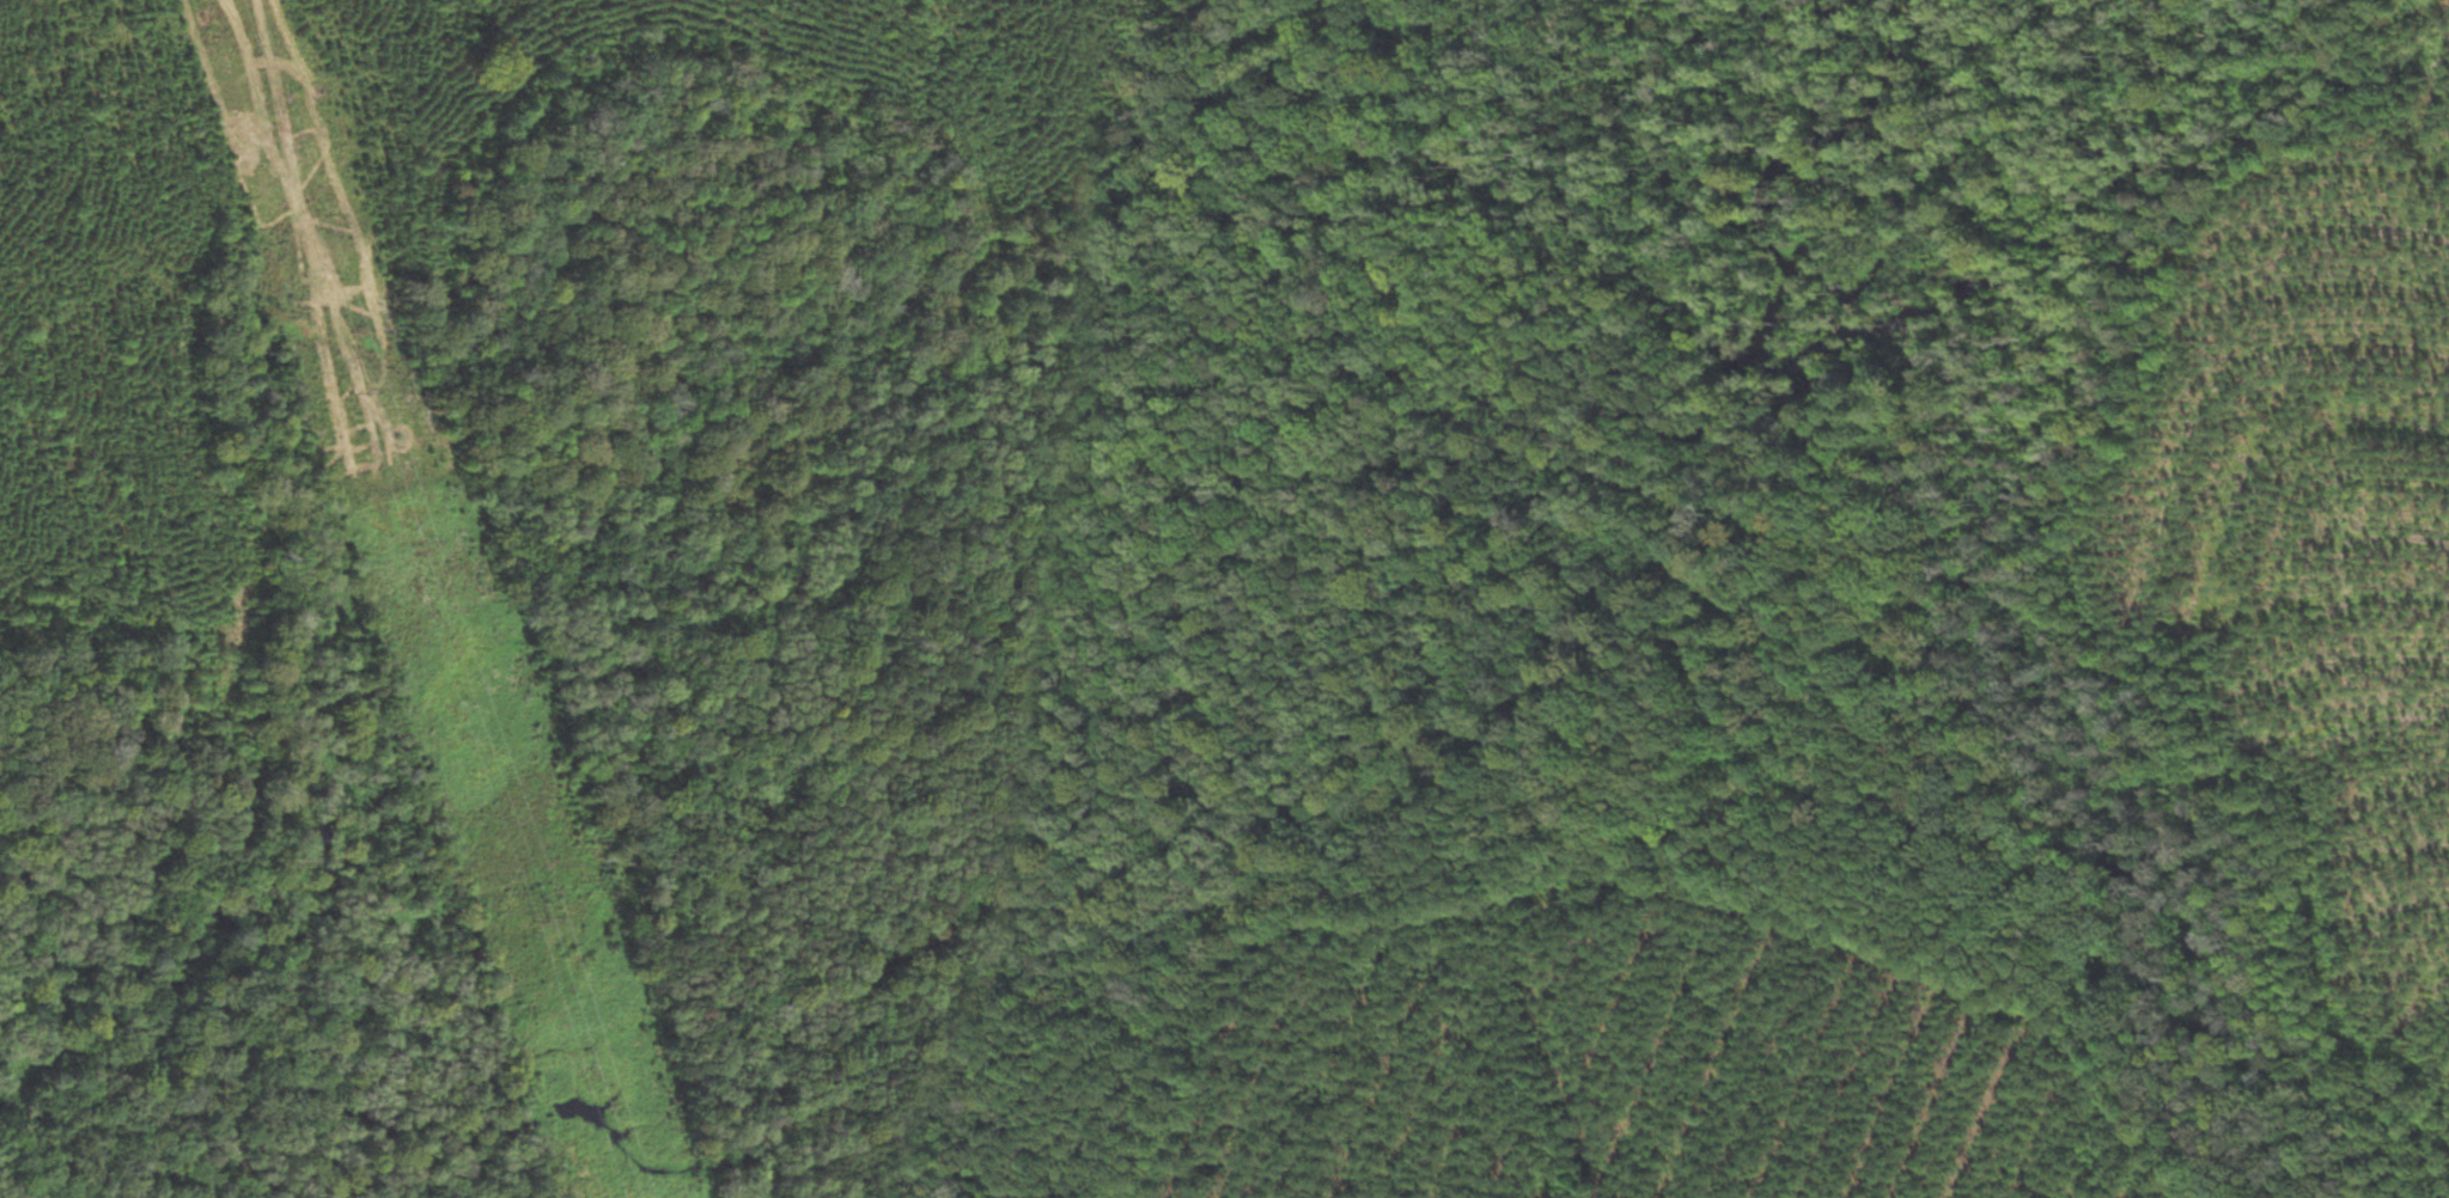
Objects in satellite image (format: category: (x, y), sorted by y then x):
power tower: (357, 392)
power tower: (531, 919)

